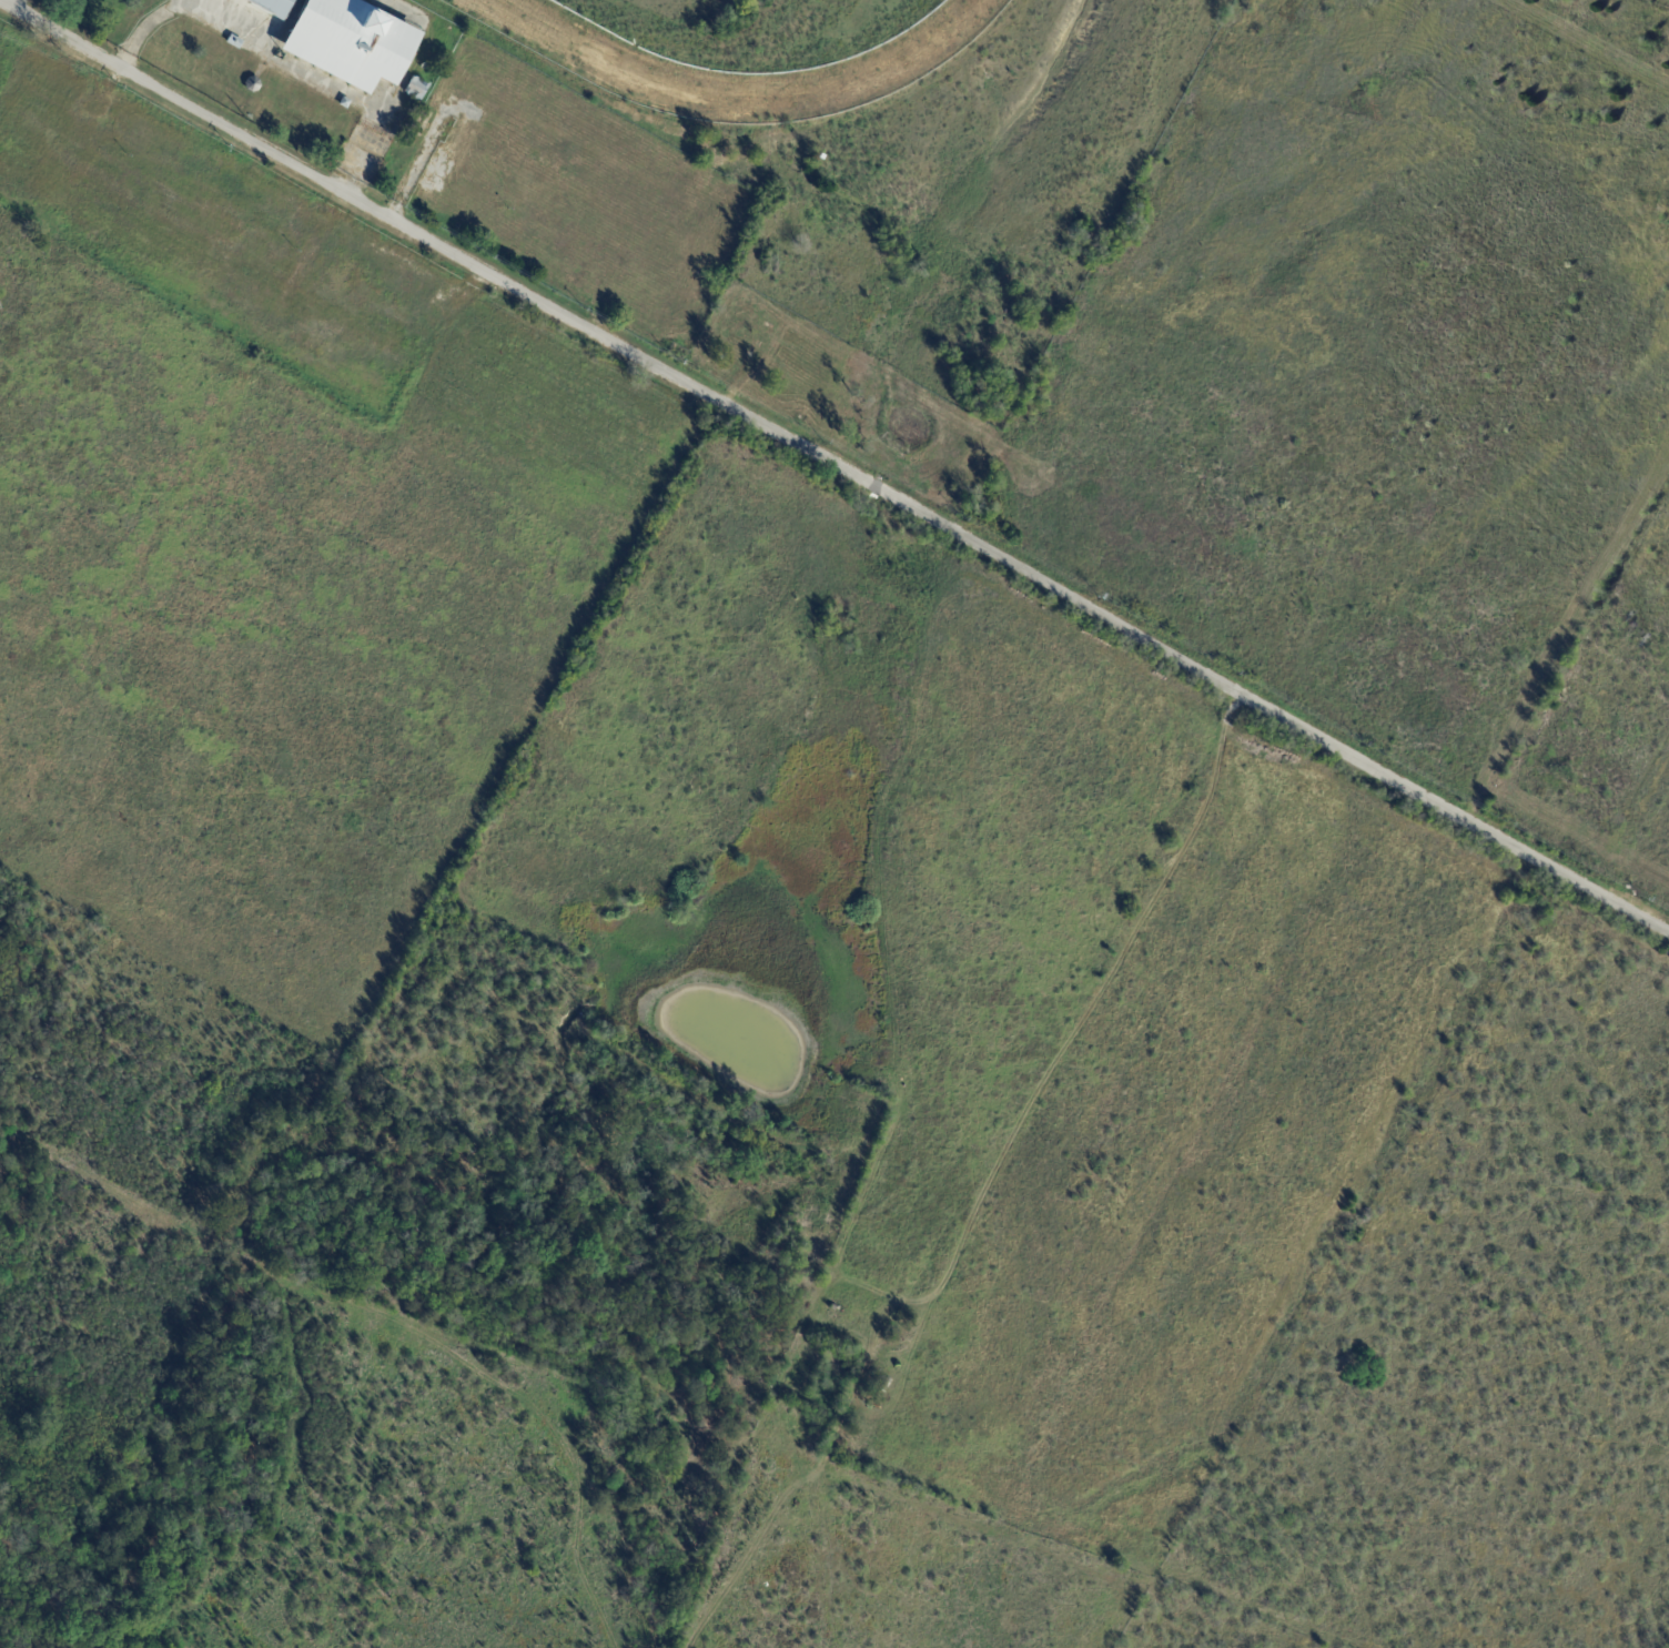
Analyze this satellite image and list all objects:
building: (276, 8)
building: (234, 42)
building: (353, 43)
building: (417, 89)
track: (746, 97)
building: (344, 104)
road: (834, 463)
building: (831, 1307)

